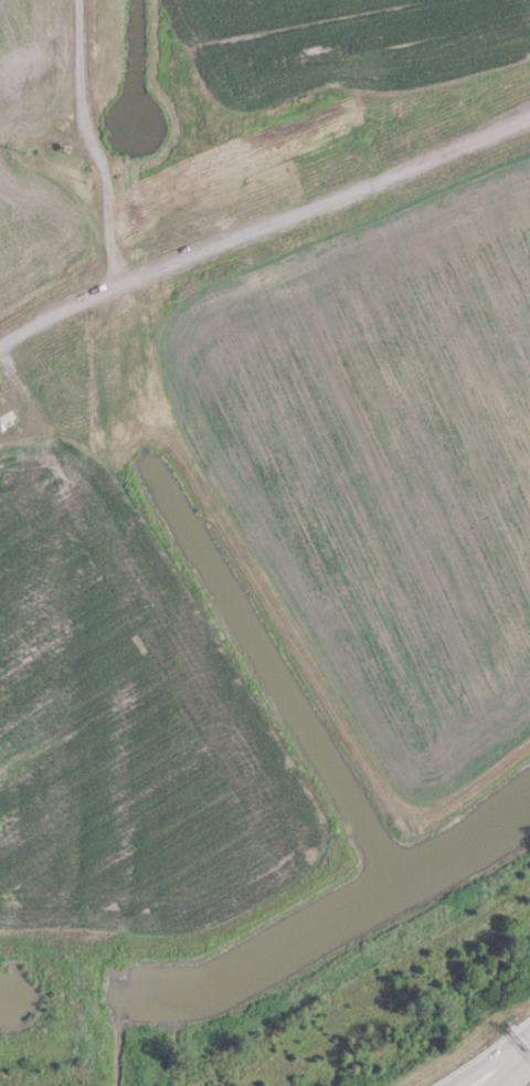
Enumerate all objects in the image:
road: (81, 141)
road: (412, 164)
road: (168, 259)
road: (22, 337)
road: (489, 1063)
road: (510, 1067)

